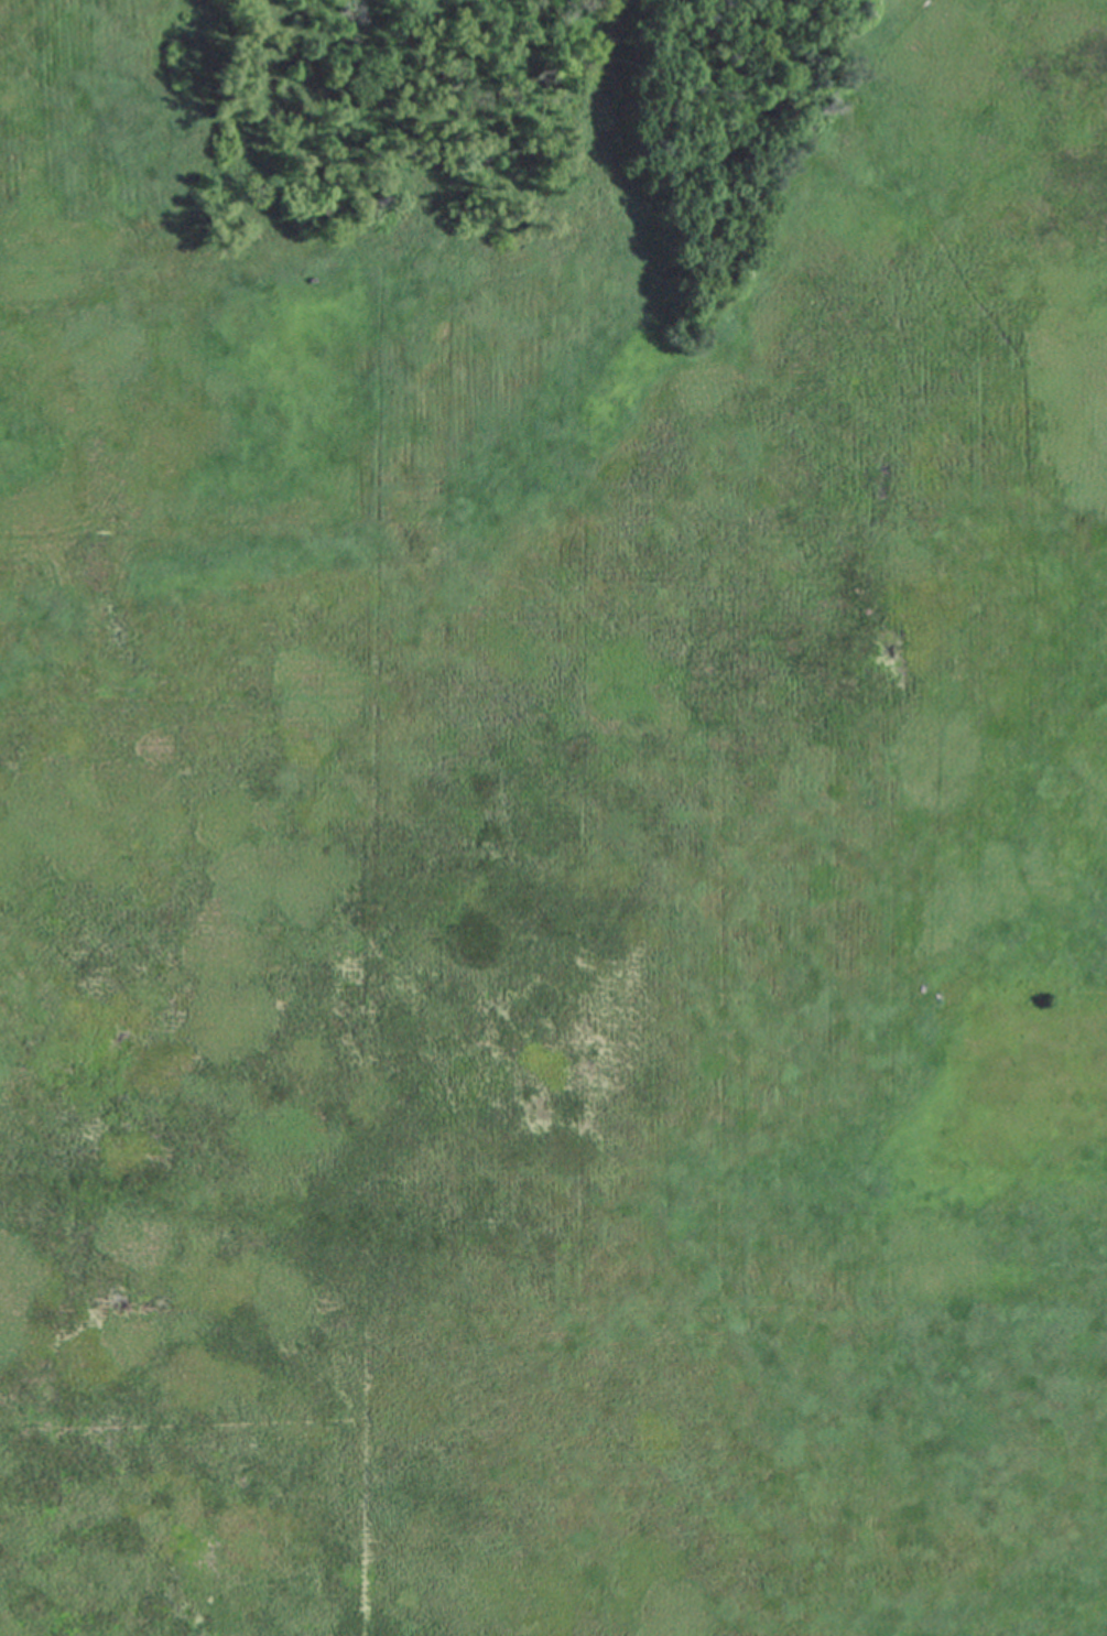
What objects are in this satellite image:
building: (313, 278)
building: (926, 986)
building: (942, 1000)

